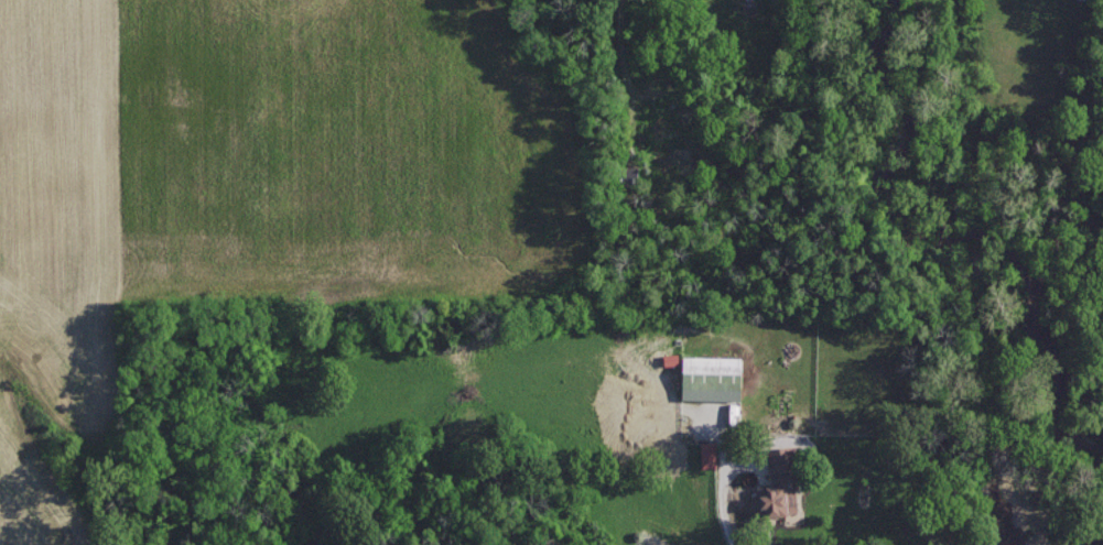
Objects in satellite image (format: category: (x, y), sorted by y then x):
building: (712, 377)
building: (709, 454)
building: (780, 483)
road: (756, 488)

